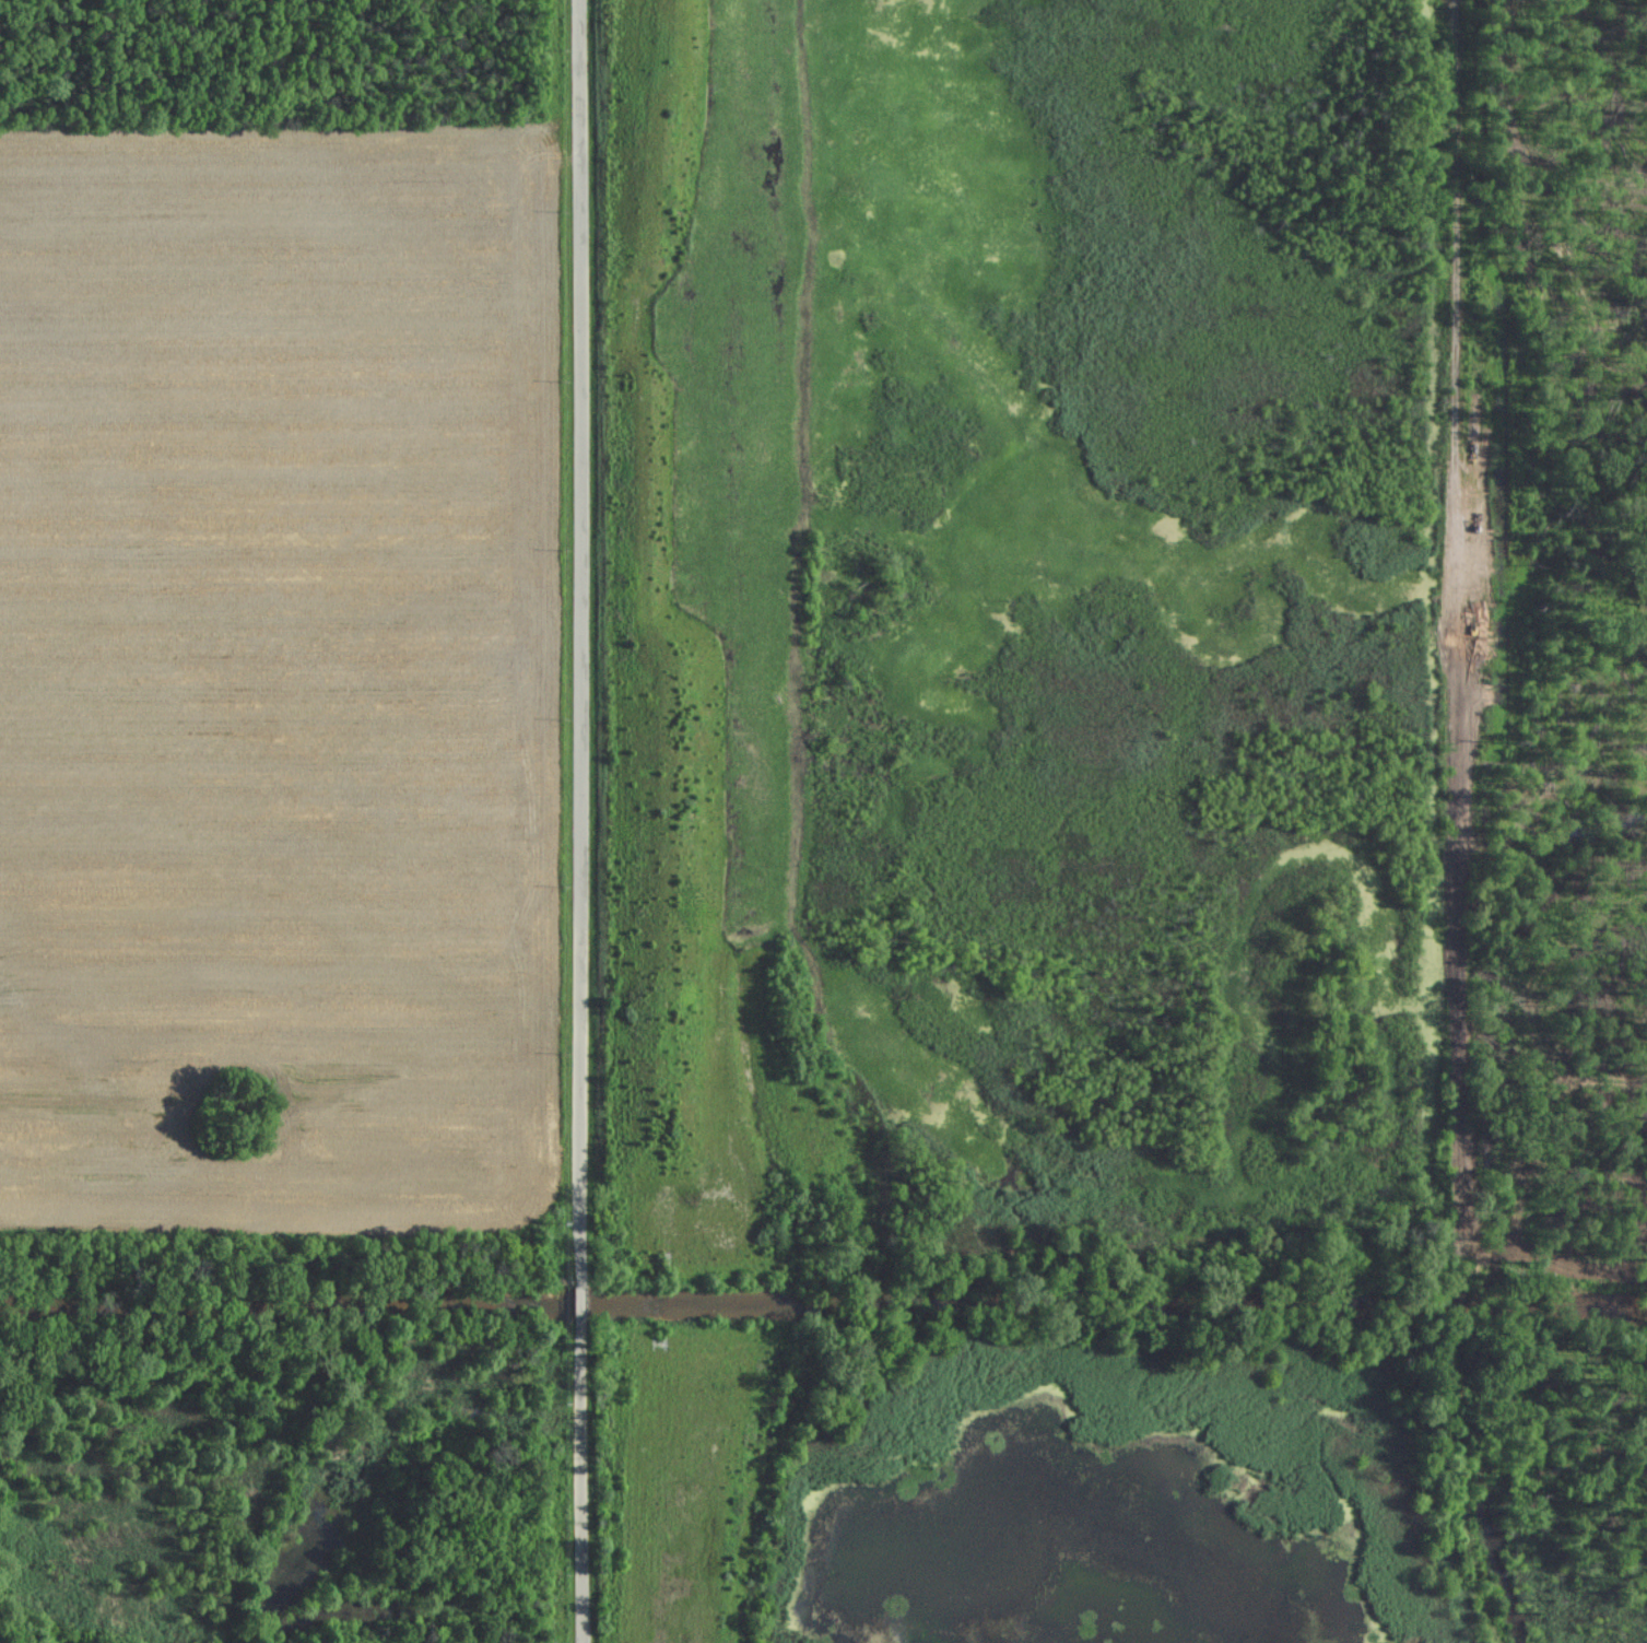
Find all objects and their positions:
road: (584, 638)
road: (584, 1300)
road: (585, 1482)

